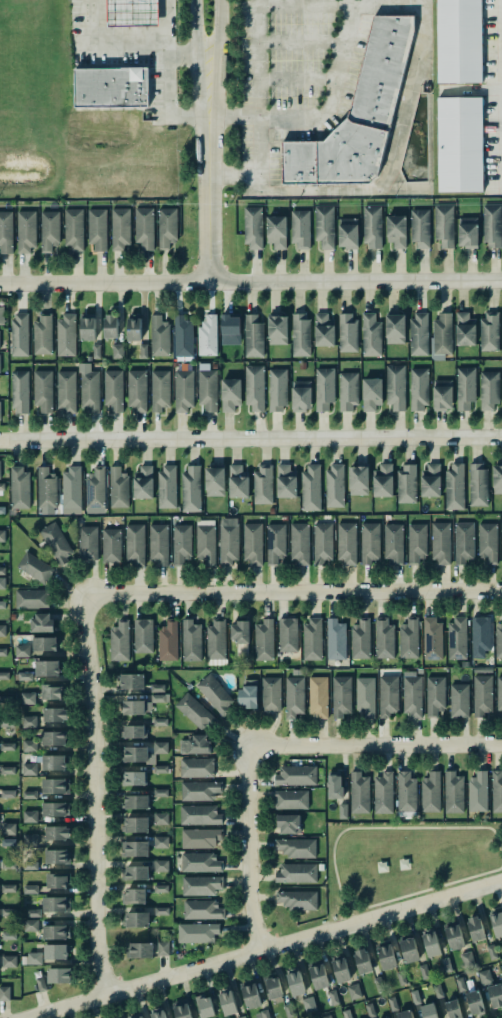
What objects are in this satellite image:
building: (135, 13)
road: (219, 28)
road: (193, 29)
building: (458, 41)
road: (181, 45)
road: (160, 47)
building: (111, 88)
road: (329, 90)
road: (231, 113)
building: (357, 113)
building: (460, 143)
road: (209, 167)
road: (232, 174)
road: (303, 190)
building: (323, 225)
building: (444, 225)
building: (143, 226)
building: (492, 226)
building: (119, 227)
building: (372, 227)
building: (419, 227)
building: (167, 228)
building: (253, 228)
building: (299, 228)
building: (49, 229)
building: (73, 229)
building: (97, 229)
building: (395, 230)
building: (26, 231)
building: (5, 232)
building: (277, 232)
building: (347, 232)
building: (468, 232)
road: (250, 281)
building: (1, 314)
building: (110, 326)
building: (86, 328)
building: (134, 328)
building: (230, 329)
building: (276, 329)
building: (395, 329)
building: (465, 329)
building: (322, 330)
building: (488, 331)
building: (347, 332)
building: (19, 334)
building: (418, 334)
building: (42, 335)
building: (252, 335)
building: (299, 335)
building: (370, 335)
building: (442, 335)
building: (65, 336)
building: (159, 336)
building: (207, 336)
building: (183, 337)
building: (143, 350)
building: (95, 351)
building: (117, 351)
building: (0, 357)
building: (206, 387)
building: (255, 387)
building: (323, 387)
building: (396, 387)
building: (465, 387)
building: (418, 388)
building: (276, 389)
building: (488, 389)
building: (41, 390)
building: (90, 390)
building: (113, 390)
building: (137, 390)
building: (160, 390)
building: (347, 390)
building: (65, 391)
building: (183, 391)
building: (20, 392)
building: (442, 393)
building: (230, 394)
building: (372, 394)
building: (301, 396)
building: (0, 410)
road: (251, 439)
building: (0, 463)
building: (496, 479)
building: (431, 480)
building: (214, 481)
building: (285, 481)
building: (358, 481)
building: (383, 481)
building: (143, 482)
building: (236, 482)
building: (262, 484)
building: (406, 484)
building: (477, 484)
building: (333, 485)
building: (2, 486)
building: (454, 486)
building: (19, 487)
building: (165, 487)
building: (310, 487)
building: (46, 488)
building: (95, 488)
building: (118, 488)
building: (191, 489)
building: (70, 490)
building: (2, 510)
building: (2, 536)
building: (205, 541)
building: (463, 541)
building: (487, 541)
building: (87, 542)
building: (228, 542)
building: (299, 542)
building: (322, 542)
building: (369, 542)
building: (416, 542)
building: (440, 542)
building: (501, 542)
building: (54, 543)
building: (134, 543)
building: (157, 543)
building: (180, 543)
building: (252, 543)
building: (346, 543)
building: (393, 543)
building: (110, 544)
building: (275, 544)
building: (34, 567)
building: (2, 571)
building: (2, 583)
road: (291, 593)
building: (31, 598)
building: (41, 623)
building: (2, 630)
building: (239, 632)
building: (480, 633)
building: (287, 634)
building: (142, 635)
building: (383, 638)
building: (408, 638)
building: (456, 638)
building: (215, 639)
building: (263, 639)
building: (311, 639)
building: (335, 639)
building: (359, 639)
building: (431, 639)
building: (167, 640)
building: (190, 640)
building: (499, 640)
building: (119, 641)
building: (44, 643)
building: (22, 651)
building: (2, 652)
building: (47, 668)
building: (4, 675)
building: (130, 680)
building: (158, 688)
building: (52, 692)
building: (499, 693)
building: (215, 694)
building: (248, 694)
building: (271, 694)
building: (412, 694)
building: (481, 694)
building: (340, 695)
building: (387, 695)
building: (434, 695)
building: (293, 696)
building: (317, 696)
building: (365, 696)
building: (28, 698)
building: (160, 698)
building: (458, 701)
building: (137, 707)
building: (195, 712)
building: (54, 714)
building: (160, 721)
building: (29, 722)
building: (133, 732)
building: (54, 738)
building: (29, 745)
building: (195, 745)
building: (7, 746)
road: (272, 747)
building: (142, 753)
building: (54, 762)
building: (196, 767)
building: (160, 768)
building: (30, 769)
building: (8, 770)
building: (295, 775)
building: (132, 778)
building: (55, 786)
building: (335, 787)
building: (199, 790)
building: (478, 791)
building: (496, 791)
building: (160, 792)
building: (431, 792)
building: (359, 793)
building: (382, 793)
building: (452, 793)
building: (7, 794)
building: (29, 794)
building: (405, 794)
road: (92, 795)
building: (291, 800)
building: (134, 802)
building: (56, 809)
building: (343, 811)
building: (200, 815)
building: (30, 816)
building: (161, 818)
building: (289, 824)
building: (136, 825)
building: (8, 829)
building: (58, 833)
building: (200, 838)
building: (30, 840)
building: (161, 842)
building: (296, 847)
building: (133, 848)
park: (463, 853)
building: (57, 856)
park: (403, 861)
building: (200, 863)
building: (9, 864)
building: (161, 866)
building: (135, 871)
building: (297, 873)
building: (58, 881)
building: (201, 886)
building: (8, 888)
building: (161, 888)
building: (30, 889)
building: (134, 896)
building: (296, 899)
road: (340, 899)
building: (54, 904)
building: (203, 910)
building: (161, 911)
building: (9, 912)
building: (33, 913)
building: (137, 920)
building: (30, 924)
building: (497, 924)
building: (476, 928)
building: (55, 932)
building: (198, 933)
building: (9, 935)
building: (454, 936)
building: (431, 943)
building: (163, 948)
road: (267, 949)
building: (138, 950)
building: (408, 950)
building: (55, 952)
building: (387, 956)
building: (34, 958)
building: (467, 959)
building: (8, 961)
building: (361, 961)
building: (446, 965)
building: (501, 968)
building: (341, 970)
building: (424, 972)
building: (59, 975)
building: (485, 976)
building: (319, 977)
building: (296, 983)
building: (460, 983)
building: (40, 984)
building: (271, 986)
building: (436, 990)
building: (354, 992)
building: (4, 993)
building: (495, 995)
building: (251, 996)
building: (333, 997)
building: (414, 997)
building: (474, 1002)
building: (228, 1003)
building: (309, 1004)
building: (206, 1007)
building: (452, 1009)
building: (182, 1010)
building: (370, 1010)
building: (427, 1011)
building: (263, 1014)
building: (404, 1014)
building: (157, 1015)
building: (139, 1017)
building: (243, 1017)
building: (326, 1017)

